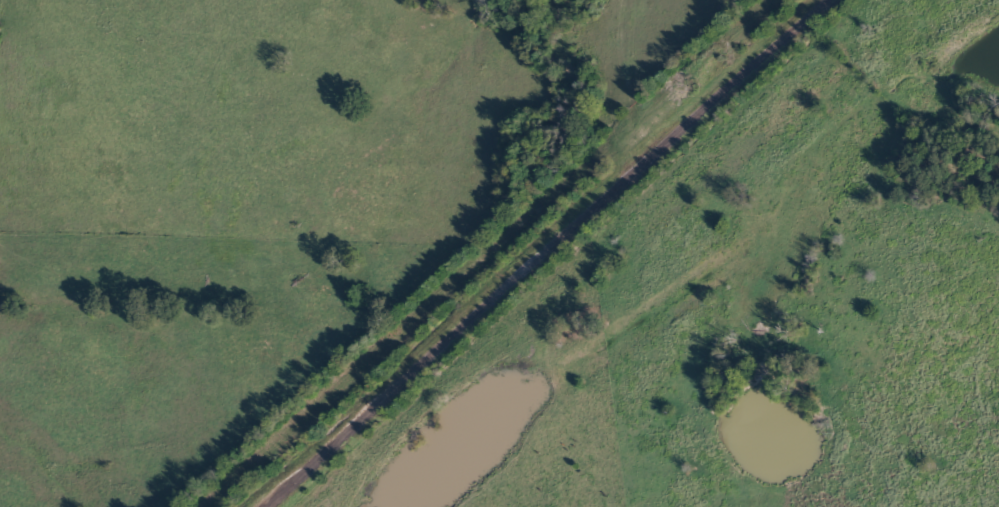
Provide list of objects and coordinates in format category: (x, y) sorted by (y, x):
road: (560, 253)

